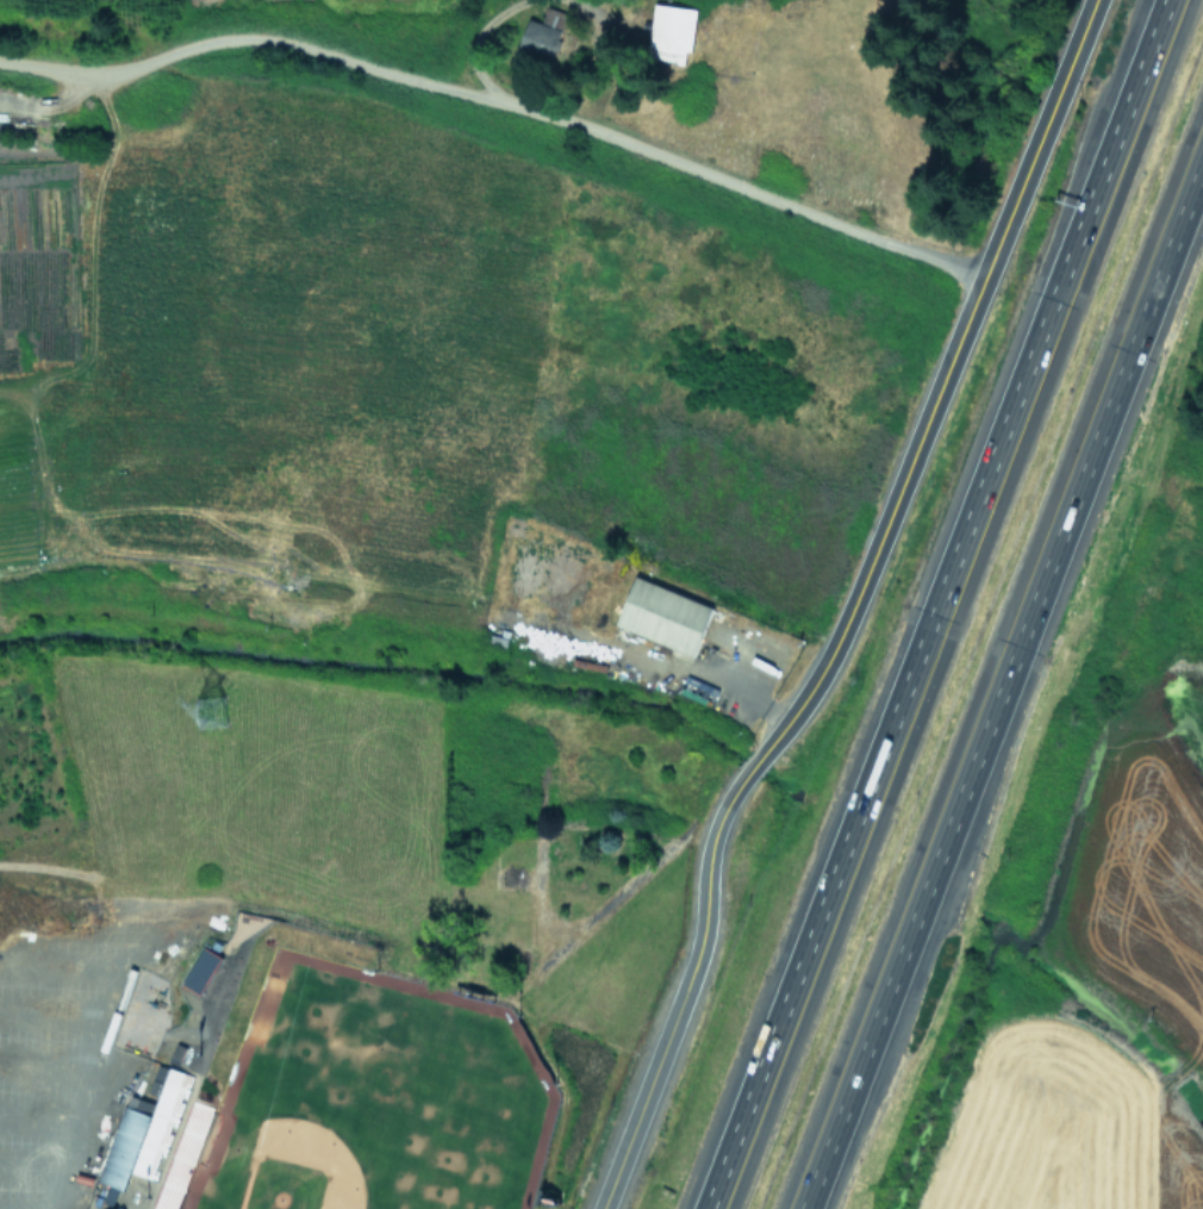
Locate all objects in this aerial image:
building: (542, 33)
road: (500, 99)
road: (983, 278)
road: (936, 604)
building: (663, 616)
road: (827, 660)
road: (1002, 683)
road: (743, 697)
power tower: (210, 713)
road: (752, 766)
crop: (1112, 962)
building: (199, 971)
road: (682, 996)
road: (48, 1011)
road: (91, 1033)
parking lot: (79, 1045)
road: (40, 1062)
building: (157, 1079)
stadium: (329, 1088)
park: (372, 1098)
road: (33, 1117)
building: (121, 1146)
building: (147, 1160)
road: (29, 1163)
building: (117, 1208)
building: (121, 1208)

